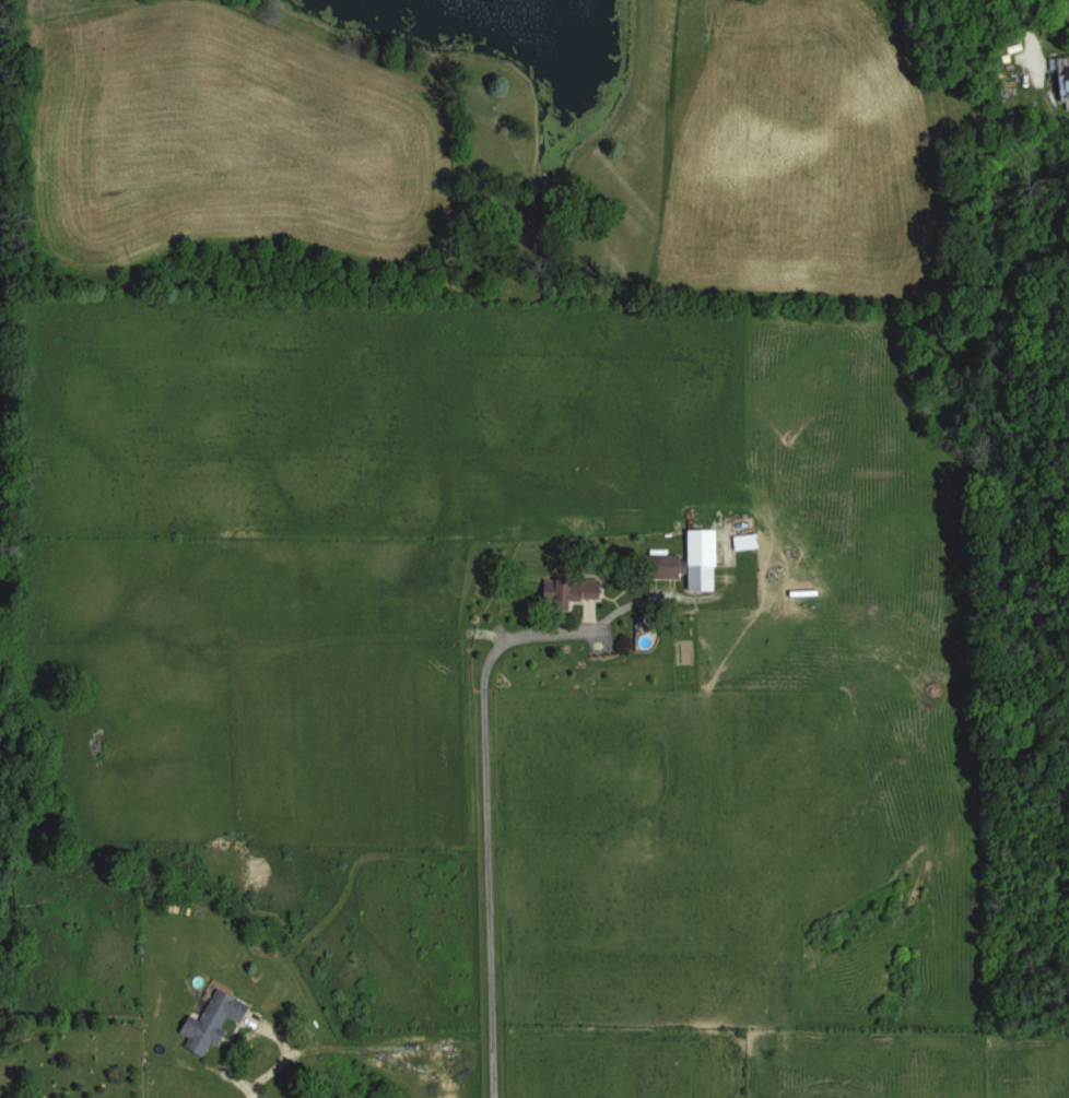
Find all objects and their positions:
road: (1022, 27)
building: (1064, 83)
building: (744, 541)
building: (681, 570)
building: (574, 590)
road: (491, 817)
building: (211, 1022)
road: (262, 1038)
road: (250, 1097)

